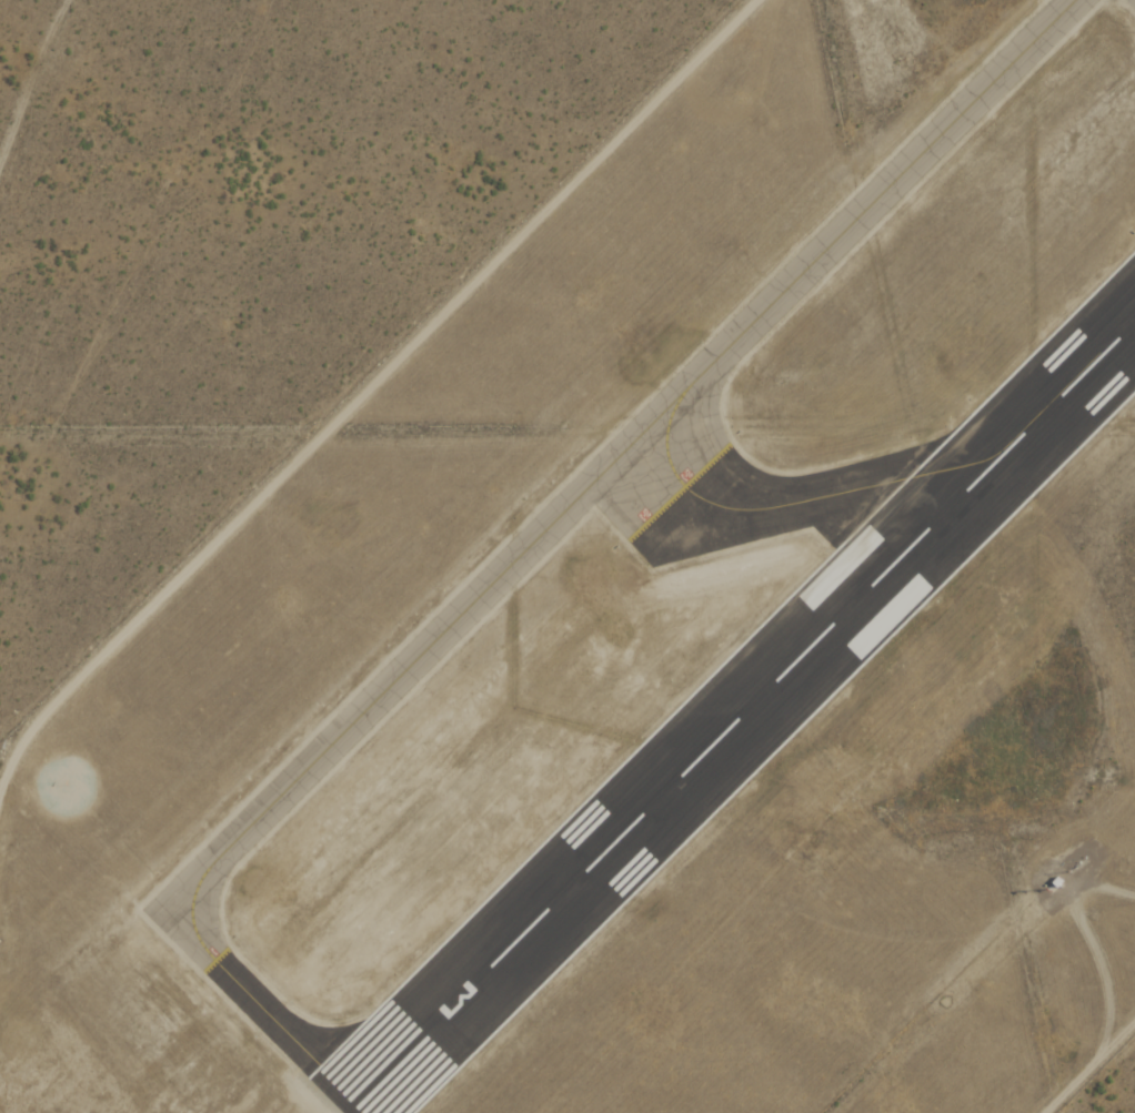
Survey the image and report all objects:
road: (23, 81)
road: (370, 386)
airport taxiway: (644, 436)
airport taxiway: (797, 502)
airport: (655, 641)
airport runway: (739, 717)
airport taxiway: (252, 993)
road: (1088, 1068)

